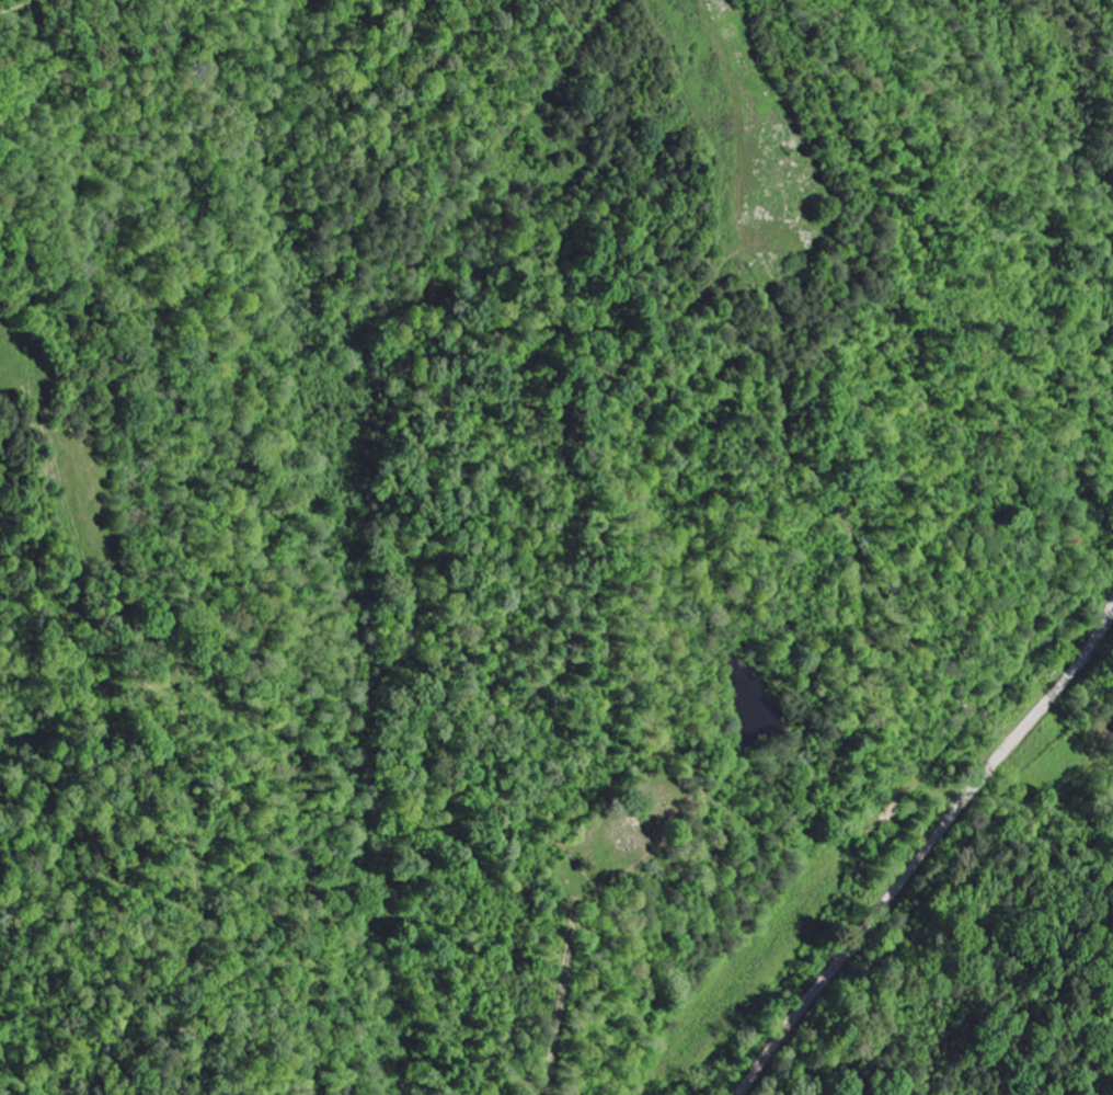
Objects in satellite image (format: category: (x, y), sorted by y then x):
road: (928, 851)

